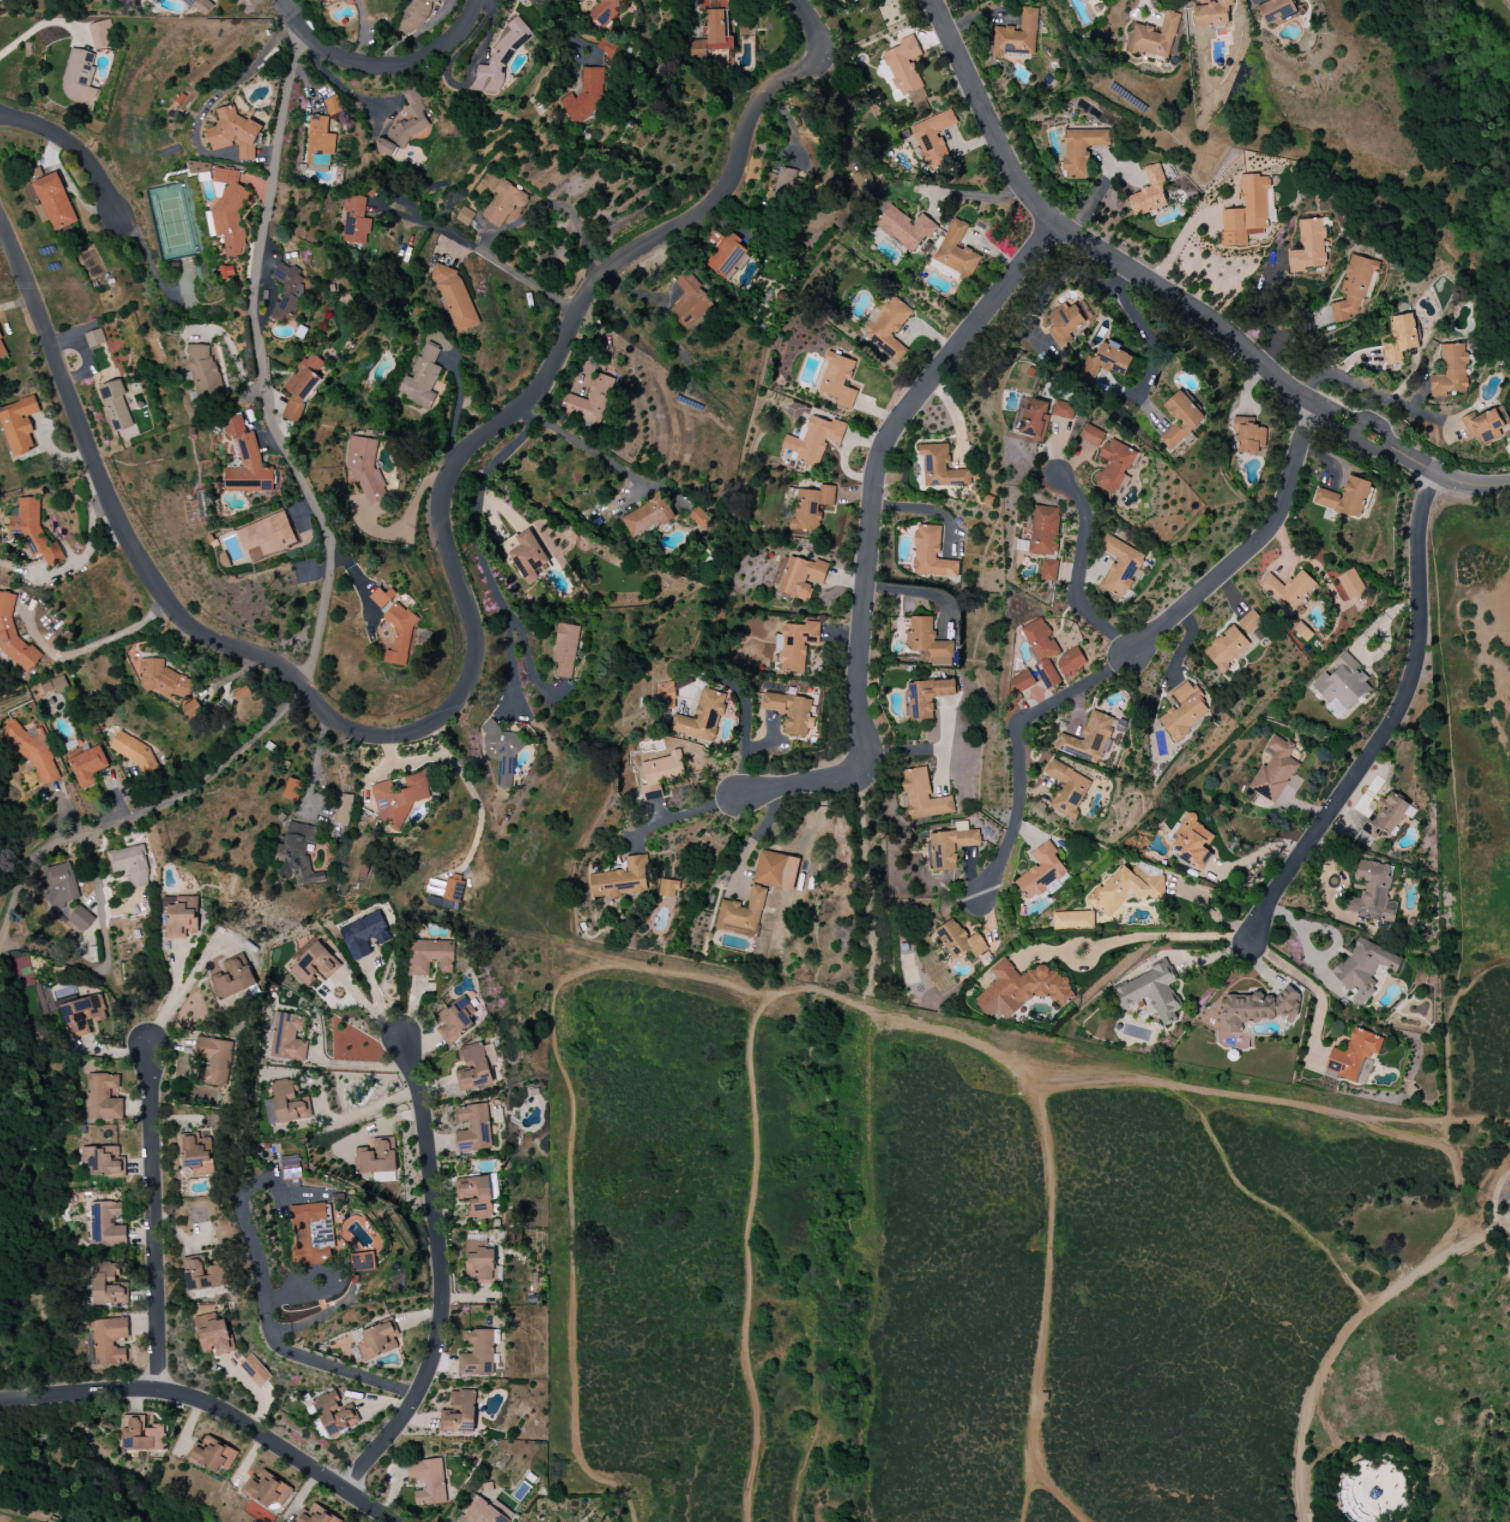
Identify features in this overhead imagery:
building: (328, 0)
road: (1507, 2)
building: (1276, 10)
building: (607, 11)
building: (415, 14)
building: (1211, 14)
road: (568, 29)
road: (43, 31)
building: (712, 34)
building: (100, 35)
building: (1016, 36)
building: (1154, 37)
building: (501, 57)
road: (381, 64)
building: (901, 68)
building: (78, 76)
road: (333, 80)
road: (232, 91)
building: (585, 96)
road: (763, 101)
building: (333, 105)
building: (405, 123)
building: (233, 134)
building: (933, 139)
building: (319, 142)
road: (76, 148)
building: (1080, 151)
park: (1443, 155)
building: (200, 168)
building: (860, 184)
building: (780, 188)
building: (1149, 192)
road: (976, 197)
building: (52, 202)
building: (504, 205)
building: (229, 210)
building: (1246, 213)
building: (464, 216)
building: (355, 221)
building: (905, 227)
road: (1177, 244)
building: (1309, 246)
building: (956, 251)
road: (480, 252)
building: (725, 253)
road: (1130, 270)
building: (227, 272)
road: (1055, 283)
building: (1353, 288)
building: (289, 291)
building: (456, 298)
building: (690, 302)
road: (1270, 315)
building: (1067, 321)
building: (888, 327)
road: (1300, 328)
road: (1143, 331)
building: (95, 338)
building: (1400, 338)
building: (0, 340)
building: (1105, 361)
building: (201, 369)
building: (1450, 371)
building: (422, 379)
building: (837, 380)
road: (1352, 381)
building: (302, 386)
building: (592, 400)
road: (458, 404)
building: (116, 405)
road: (527, 410)
building: (1063, 410)
building: (1034, 419)
building: (1180, 419)
building: (19, 424)
building: (1486, 424)
building: (1092, 435)
building: (1249, 436)
building: (815, 439)
road: (594, 452)
building: (245, 461)
building: (1113, 466)
building: (365, 467)
building: (940, 468)
road: (1461, 482)
building: (1344, 498)
building: (811, 507)
building: (648, 515)
building: (700, 518)
road: (403, 520)
road: (476, 520)
building: (1044, 530)
building: (33, 531)
road: (870, 535)
building: (266, 536)
building: (930, 553)
road: (330, 556)
building: (527, 556)
building: (1120, 566)
building: (1048, 569)
building: (818, 571)
road: (1078, 572)
building: (792, 577)
building: (1350, 583)
building: (1290, 589)
road: (920, 591)
building: (384, 599)
building: (1250, 621)
building: (400, 636)
building: (15, 637)
building: (929, 642)
road: (104, 645)
building: (795, 645)
building: (1226, 648)
building: (1043, 649)
building: (565, 650)
road: (1135, 651)
building: (1068, 663)
building: (163, 680)
building: (1023, 681)
building: (1342, 682)
building: (55, 686)
building: (241, 693)
building: (665, 695)
building: (926, 697)
building: (191, 709)
building: (1335, 709)
building: (1184, 711)
building: (791, 712)
building: (702, 716)
road: (1394, 725)
road: (389, 738)
building: (1089, 739)
road: (745, 743)
building: (501, 751)
building: (134, 752)
road: (902, 753)
building: (36, 755)
road: (418, 761)
building: (88, 766)
building: (1274, 770)
building: (661, 774)
road: (816, 781)
building: (1067, 788)
building: (292, 789)
building: (399, 800)
building: (344, 809)
road: (685, 815)
road: (480, 816)
building: (1385, 816)
road: (755, 838)
building: (1194, 843)
building: (951, 845)
building: (298, 854)
building: (130, 865)
building: (776, 870)
building: (1041, 871)
building: (621, 880)
building: (61, 886)
building: (669, 888)
building: (1124, 889)
building: (452, 892)
building: (1373, 893)
building: (742, 914)
road: (1213, 915)
building: (81, 918)
building: (183, 918)
building: (1072, 918)
building: (363, 934)
road: (1142, 937)
road: (1303, 938)
building: (960, 940)
road: (106, 954)
building: (430, 956)
road: (1193, 958)
building: (314, 964)
building: (1363, 969)
building: (233, 978)
road: (341, 980)
road: (728, 980)
building: (30, 982)
road: (1315, 987)
building: (1022, 989)
road: (183, 992)
building: (1151, 992)
road: (375, 997)
building: (1260, 1009)
building: (83, 1015)
building: (457, 1020)
building: (287, 1038)
building: (1353, 1054)
building: (213, 1061)
road: (350, 1064)
building: (473, 1068)
building: (183, 1069)
building: (103, 1097)
building: (286, 1103)
road: (1291, 1103)
road: (363, 1111)
building: (474, 1128)
building: (197, 1152)
building: (377, 1157)
building: (104, 1161)
building: (291, 1167)
building: (479, 1195)
road: (1496, 1205)
road: (154, 1219)
building: (108, 1225)
park: (1042, 1230)
building: (312, 1234)
road: (746, 1251)
building: (362, 1261)
building: (480, 1263)
road: (874, 1269)
building: (202, 1274)
road: (440, 1276)
building: (108, 1284)
road: (268, 1321)
building: (214, 1336)
road: (1341, 1337)
building: (110, 1340)
building: (378, 1340)
building: (477, 1353)
building: (255, 1371)
road: (815, 1382)
building: (1040, 1390)
road: (211, 1407)
building: (459, 1413)
building: (333, 1415)
building: (142, 1435)
road: (1367, 1443)
road: (1463, 1443)
road: (1374, 1454)
building: (212, 1455)
building: (428, 1481)
road: (1028, 1488)
building: (267, 1489)
building: (1375, 1491)
building: (486, 1511)
building: (315, 1515)
road: (1348, 1521)

